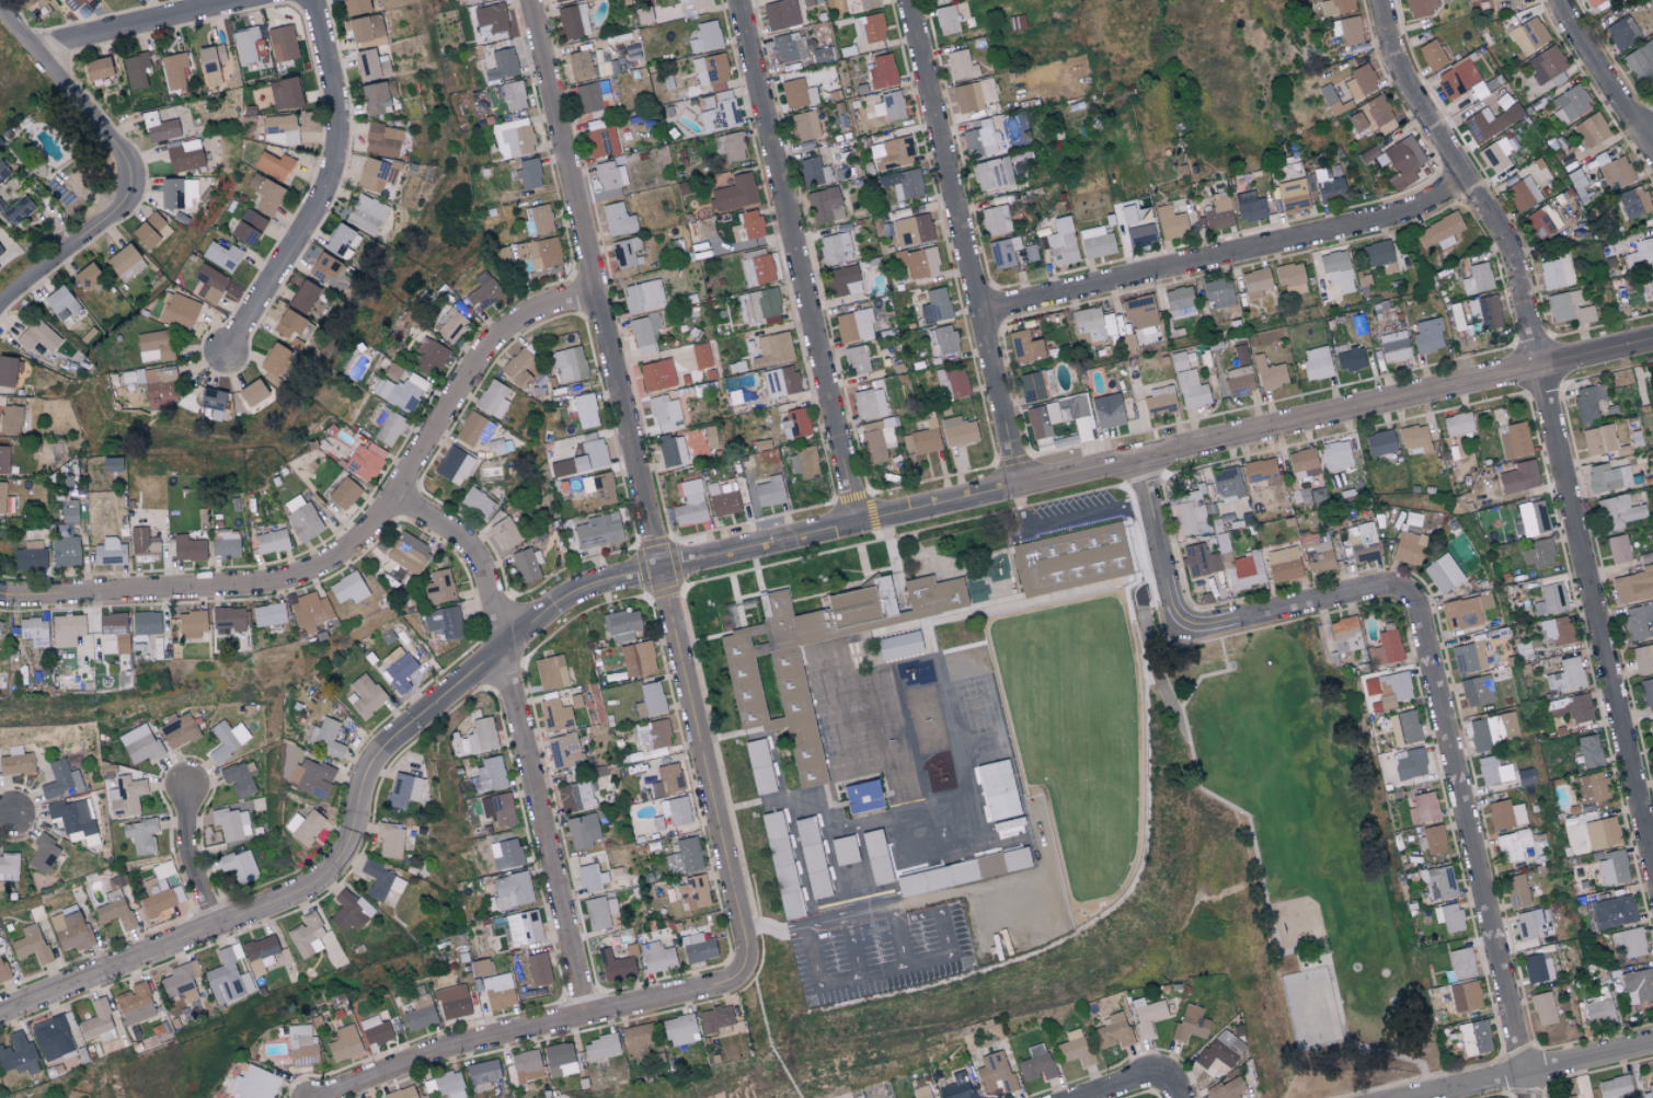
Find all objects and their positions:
building: (556, 0)
building: (810, 2)
building: (1593, 2)
building: (73, 3)
building: (868, 3)
building: (691, 5)
building: (1335, 5)
building: (355, 7)
building: (1421, 7)
building: (780, 13)
building: (490, 19)
building: (946, 20)
building: (574, 21)
road: (145, 25)
building: (365, 27)
building: (870, 27)
building: (1347, 30)
building: (1622, 32)
building: (1528, 34)
building: (709, 35)
building: (283, 43)
building: (248, 44)
building: (788, 47)
building: (819, 55)
building: (1432, 55)
building: (1640, 61)
building: (210, 63)
building: (370, 65)
building: (502, 65)
building: (579, 65)
building: (960, 65)
building: (97, 68)
building: (1547, 68)
building: (135, 69)
building: (174, 71)
building: (882, 71)
building: (711, 72)
road: (1606, 74)
building: (1457, 79)
building: (1361, 81)
building: (285, 92)
building: (973, 94)
building: (513, 95)
building: (377, 96)
building: (1571, 103)
building: (892, 105)
building: (1369, 115)
road: (1645, 123)
building: (1483, 124)
building: (803, 126)
building: (159, 127)
building: (282, 127)
building: (1592, 129)
building: (273, 138)
building: (513, 138)
building: (382, 139)
building: (600, 139)
building: (982, 140)
building: (730, 146)
building: (1500, 151)
building: (893, 152)
building: (184, 157)
building: (1404, 158)
building: (274, 164)
road: (126, 166)
building: (1615, 170)
building: (811, 171)
building: (2, 172)
building: (991, 173)
building: (377, 174)
building: (528, 174)
building: (610, 174)
building: (903, 183)
building: (1328, 185)
building: (1528, 186)
road: (328, 187)
building: (176, 193)
building: (264, 193)
building: (734, 193)
building: (1293, 195)
building: (1633, 201)
building: (824, 205)
building: (1249, 206)
building: (16, 210)
building: (366, 213)
building: (618, 219)
building: (538, 220)
building: (995, 220)
building: (1171, 222)
building: (1540, 222)
building: (748, 223)
building: (248, 228)
building: (912, 230)
building: (150, 231)
building: (1439, 231)
building: (1139, 234)
building: (340, 240)
road: (962, 242)
building: (1061, 242)
building: (1097, 242)
building: (835, 247)
building: (1, 250)
building: (627, 252)
building: (1003, 252)
building: (1030, 253)
road: (1225, 253)
building: (1377, 253)
building: (539, 254)
building: (1640, 254)
building: (222, 255)
road: (797, 261)
building: (123, 262)
building: (919, 262)
building: (756, 269)
building: (1336, 269)
building: (328, 270)
building: (1557, 273)
building: (1289, 274)
building: (85, 276)
building: (1478, 278)
building: (842, 280)
building: (1255, 282)
building: (1650, 282)
building: (209, 284)
building: (1219, 292)
building: (302, 297)
building: (643, 297)
building: (1179, 302)
building: (60, 303)
building: (935, 305)
building: (1570, 308)
building: (179, 311)
building: (1139, 311)
building: (1485, 311)
building: (1094, 323)
building: (288, 324)
building: (450, 324)
building: (853, 325)
building: (644, 333)
building: (1427, 335)
building: (942, 340)
building: (1025, 346)
building: (1393, 346)
building: (772, 349)
building: (1240, 354)
building: (429, 356)
building: (700, 356)
building: (1350, 358)
building: (275, 359)
building: (856, 359)
building: (1178, 361)
building: (569, 363)
building: (1317, 363)
building: (519, 369)
building: (9, 370)
building: (1270, 373)
building: (656, 374)
building: (781, 381)
building: (1239, 382)
building: (952, 383)
building: (156, 384)
building: (1031, 386)
building: (1191, 390)
building: (401, 391)
building: (251, 393)
building: (492, 398)
building: (211, 401)
building: (1159, 401)
building: (1587, 402)
building: (869, 403)
building: (582, 409)
building: (1107, 411)
building: (664, 413)
building: (1058, 417)
building: (10, 419)
road: (1551, 419)
building: (386, 424)
building: (794, 424)
building: (1458, 424)
building: (472, 429)
building: (958, 430)
road: (1254, 431)
building: (710, 436)
building: (922, 439)
building: (1415, 439)
building: (1598, 439)
building: (874, 440)
building: (1514, 440)
building: (1380, 443)
building: (670, 449)
building: (589, 455)
building: (1335, 456)
building: (3, 460)
building: (364, 461)
building: (803, 462)
building: (1302, 463)
building: (452, 464)
building: (561, 467)
building: (1260, 470)
building: (1519, 477)
road: (640, 483)
building: (1227, 484)
building: (599, 487)
building: (769, 492)
building: (344, 493)
building: (2, 497)
building: (723, 498)
building: (477, 502)
building: (690, 504)
building: (69, 511)
building: (1191, 511)
building: (1618, 512)
building: (1534, 515)
building: (302, 518)
road: (1065, 519)
building: (1517, 527)
building: (597, 531)
building: (505, 533)
building: (271, 539)
building: (1362, 543)
building: (1408, 545)
building: (144, 546)
road: (353, 546)
road: (1159, 546)
building: (187, 547)
building: (225, 547)
building: (1618, 548)
building: (65, 551)
building: (108, 552)
road: (473, 552)
building: (1316, 552)
building: (409, 553)
building: (1539, 553)
building: (30, 555)
building: (1199, 560)
building: (527, 564)
building: (1076, 564)
building: (1283, 564)
building: (1244, 570)
building: (1443, 576)
building: (1634, 586)
building: (438, 587)
building: (348, 588)
building: (1551, 599)
road: (1293, 609)
building: (1466, 611)
building: (310, 612)
building: (268, 614)
building: (228, 619)
building: (1639, 621)
building: (443, 622)
building: (192, 623)
building: (0, 624)
building: (145, 624)
building: (621, 625)
building: (67, 629)
building: (115, 629)
building: (35, 631)
building: (1557, 631)
building: (1345, 634)
building: (1387, 648)
building: (638, 658)
building: (1468, 658)
building: (1643, 658)
building: (399, 672)
building: (551, 672)
building: (1565, 677)
building: (1388, 689)
building: (1477, 691)
building: (1648, 691)
building: (365, 695)
building: (650, 701)
building: (776, 707)
building: (1572, 708)
building: (554, 715)
building: (1408, 727)
building: (177, 730)
building: (1651, 730)
building: (1493, 731)
building: (654, 733)
building: (323, 737)
road: (399, 737)
building: (474, 738)
building: (227, 739)
building: (142, 746)
building: (563, 751)
building: (1589, 751)
building: (15, 761)
building: (1411, 762)
building: (768, 770)
building: (1493, 771)
building: (491, 774)
building: (311, 777)
building: (60, 779)
building: (238, 779)
building: (666, 782)
building: (1591, 788)
building: (998, 789)
building: (403, 790)
building: (126, 796)
building: (575, 797)
building: (869, 802)
building: (1423, 808)
building: (498, 809)
building: (678, 811)
building: (1505, 814)
road: (8, 816)
building: (74, 820)
building: (232, 823)
building: (303, 827)
building: (1009, 827)
building: (583, 830)
road: (544, 831)
building: (1602, 833)
building: (140, 835)
building: (1432, 840)
building: (390, 841)
building: (1575, 842)
road: (1470, 844)
building: (872, 845)
building: (1513, 845)
building: (43, 854)
building: (506, 855)
building: (684, 856)
road: (191, 857)
park: (1300, 860)
building: (9, 863)
building: (238, 866)
building: (1612, 868)
building: (810, 869)
building: (963, 871)
building: (590, 878)
building: (1438, 882)
building: (382, 883)
building: (513, 890)
building: (160, 891)
building: (1516, 891)
building: (693, 892)
road: (1263, 892)
building: (351, 912)
building: (1610, 912)
building: (596, 913)
building: (1449, 917)
building: (524, 927)
road: (773, 927)
building: (71, 929)
building: (1526, 929)
building: (307, 936)
road: (900, 943)
building: (1629, 943)
building: (31, 945)
road: (854, 946)
building: (698, 948)
building: (260, 953)
road: (951, 953)
building: (657, 957)
building: (1460, 964)
building: (615, 966)
building: (538, 969)
building: (1537, 969)
building: (4, 971)
building: (229, 975)
building: (180, 979)
building: (1638, 985)
building: (495, 992)
building: (1463, 996)
building: (135, 1004)
building: (454, 1006)
building: (1543, 1008)
park: (1309, 1010)
building: (1598, 1012)
building: (1147, 1016)
building: (714, 1019)
building: (99, 1022)
building: (1190, 1024)
road: (536, 1028)
building: (375, 1030)
building: (680, 1030)
building: (1114, 1031)
building: (55, 1038)
building: (1474, 1038)
building: (636, 1042)
building: (344, 1043)
building: (301, 1045)
building: (601, 1047)
building: (1075, 1048)
building: (1219, 1050)
building: (18, 1055)
building: (560, 1060)
building: (1036, 1063)
building: (526, 1066)
road: (1536, 1068)
building: (483, 1072)
building: (995, 1074)
road: (1132, 1080)
building: (254, 1084)
building: (449, 1085)
building: (955, 1087)
building: (1615, 1087)
building: (1227, 1088)
building: (1648, 1091)
building: (921, 1093)
building: (401, 1094)
building: (1566, 1096)

